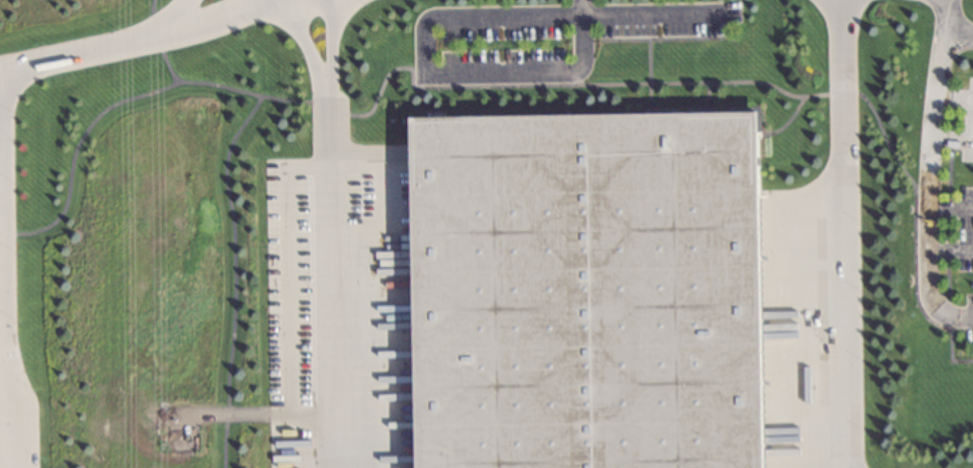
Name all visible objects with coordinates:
road: (578, 4)
road: (177, 11)
road: (212, 11)
road: (656, 11)
road: (943, 33)
road: (301, 41)
road: (327, 44)
road: (85, 48)
road: (430, 69)
road: (953, 96)
road: (952, 139)
road: (928, 186)
road: (224, 187)
road: (950, 208)
road: (841, 233)
road: (948, 250)
road: (332, 278)
building: (583, 292)
road: (965, 318)

